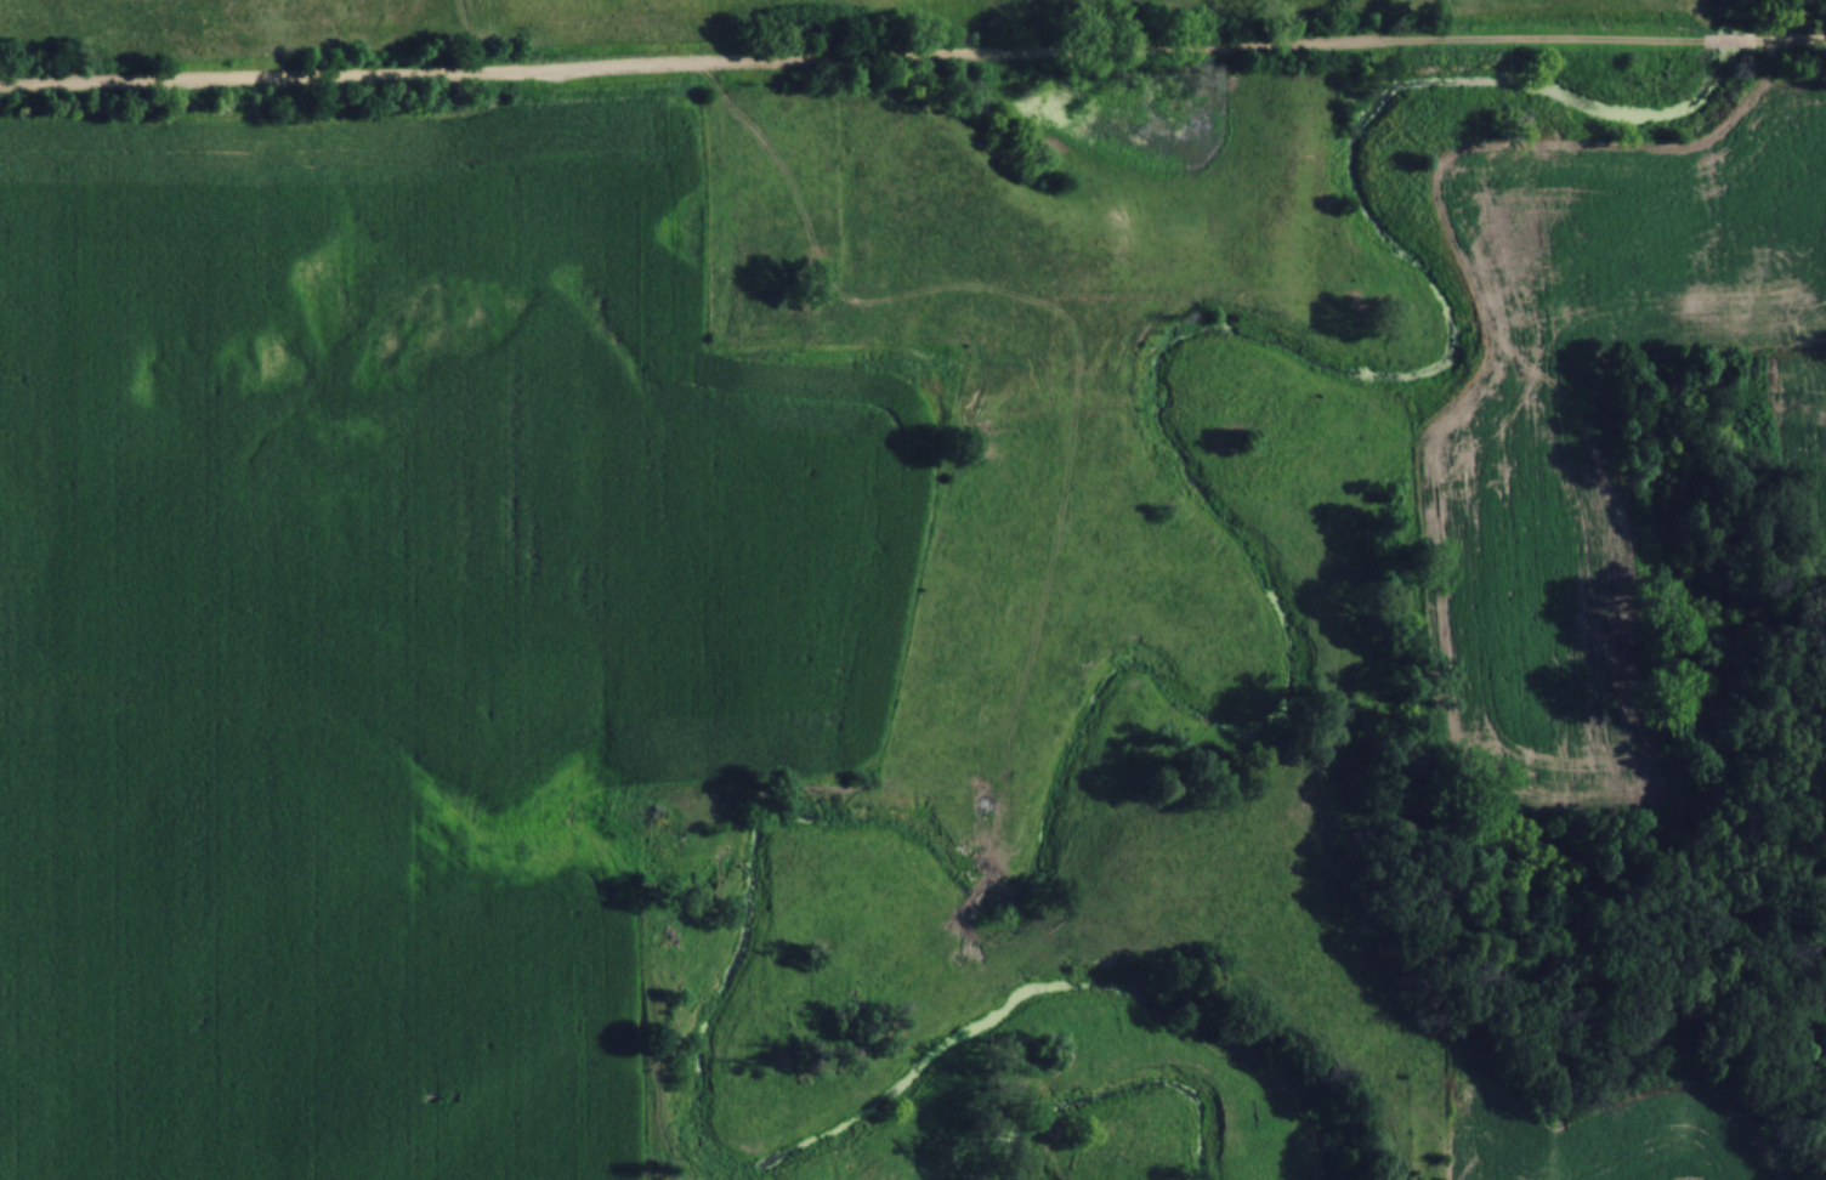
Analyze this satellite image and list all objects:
road: (1793, 40)
road: (1728, 41)
road: (846, 58)
river: (1101, 688)
river: (1113, 1091)

